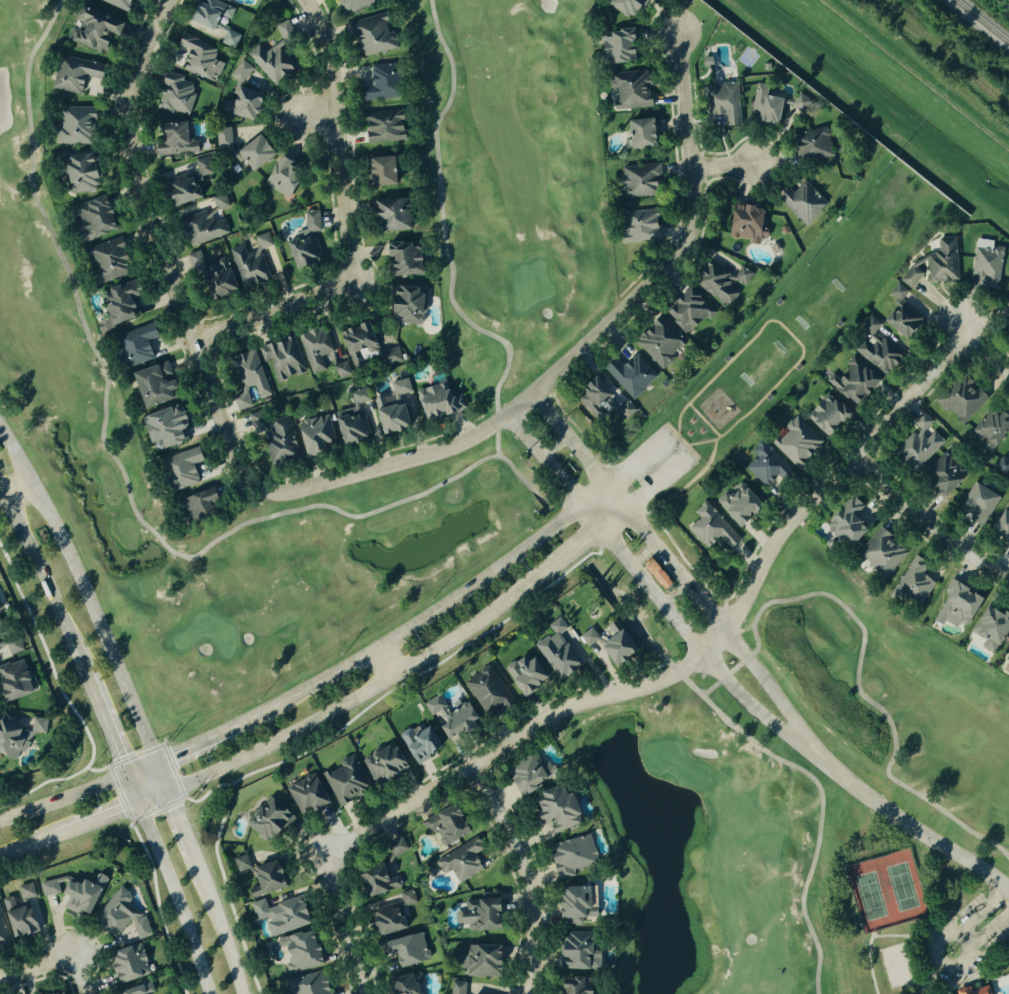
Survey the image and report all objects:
building: (224, 0)
building: (114, 3)
building: (350, 5)
building: (622, 6)
building: (207, 16)
railway: (981, 22)
building: (91, 30)
building: (283, 30)
building: (370, 36)
building: (230, 39)
building: (616, 46)
railway: (942, 53)
building: (196, 57)
building: (271, 62)
building: (240, 72)
building: (72, 75)
building: (375, 83)
building: (630, 90)
building: (173, 95)
building: (797, 103)
building: (240, 104)
building: (722, 104)
building: (762, 106)
road: (318, 122)
building: (71, 126)
building: (381, 128)
building: (638, 134)
building: (223, 139)
building: (172, 141)
building: (811, 146)
building: (253, 154)
road: (724, 164)
building: (378, 171)
building: (78, 174)
building: (279, 177)
building: (637, 182)
building: (185, 184)
building: (802, 202)
building: (388, 215)
building: (91, 218)
road: (347, 222)
building: (202, 224)
building: (745, 224)
building: (637, 227)
building: (305, 243)
road: (688, 245)
building: (250, 260)
building: (398, 260)
building: (107, 261)
building: (986, 263)
building: (931, 264)
building: (210, 274)
park: (840, 282)
building: (720, 283)
building: (896, 293)
building: (1005, 300)
building: (778, 301)
building: (404, 305)
building: (115, 306)
building: (685, 309)
building: (900, 321)
building: (839, 323)
park: (782, 333)
road: (789, 333)
building: (355, 337)
building: (657, 342)
building: (133, 345)
building: (316, 349)
building: (877, 353)
road: (988, 355)
building: (282, 357)
building: (726, 358)
building: (346, 365)
park: (761, 365)
building: (798, 367)
building: (630, 375)
building: (248, 379)
building: (851, 381)
building: (150, 383)
building: (399, 387)
road: (209, 390)
building: (768, 397)
building: (593, 398)
building: (959, 399)
building: (433, 400)
building: (388, 415)
road: (549, 415)
building: (826, 415)
road: (678, 417)
building: (351, 419)
road: (703, 420)
building: (162, 427)
road: (670, 428)
building: (314, 434)
road: (671, 434)
building: (274, 435)
road: (523, 436)
road: (717, 438)
building: (991, 439)
road: (681, 440)
road: (700, 442)
building: (796, 442)
building: (916, 444)
road: (554, 448)
road: (692, 452)
road: (690, 454)
road: (640, 461)
parking lot: (659, 461)
building: (766, 465)
building: (179, 468)
building: (942, 475)
road: (696, 477)
road: (524, 480)
road: (657, 481)
road: (19, 488)
road: (613, 489)
building: (736, 503)
building: (197, 504)
building: (977, 504)
road: (585, 512)
road: (285, 514)
road: (613, 517)
building: (844, 523)
road: (928, 525)
building: (709, 527)
building: (1001, 527)
park: (507, 529)
road: (577, 547)
building: (880, 553)
road: (644, 554)
road: (678, 569)
road: (598, 573)
road: (637, 573)
building: (655, 575)
road: (42, 579)
building: (913, 583)
road: (85, 594)
road: (676, 595)
road: (630, 603)
building: (955, 606)
road: (620, 611)
road: (428, 614)
building: (988, 628)
road: (755, 629)
building: (606, 643)
building: (556, 650)
road: (699, 655)
building: (1007, 658)
road: (383, 662)
road: (674, 663)
road: (719, 667)
road: (754, 667)
building: (523, 674)
building: (14, 680)
road: (368, 690)
building: (487, 692)
building: (449, 716)
building: (18, 733)
road: (110, 739)
building: (418, 744)
road: (198, 746)
traffic signals: (117, 755)
traffic signals: (173, 759)
building: (383, 764)
road: (143, 770)
building: (522, 776)
building: (345, 779)
building: (305, 796)
road: (63, 797)
traffic signals: (176, 807)
traffic signals: (119, 812)
road: (113, 814)
road: (178, 815)
building: (267, 819)
road: (903, 822)
building: (443, 824)
road: (28, 844)
building: (571, 855)
building: (459, 862)
road: (528, 874)
building: (256, 876)
building: (375, 880)
park: (887, 891)
building: (72, 893)
road: (177, 898)
building: (572, 904)
road: (984, 910)
building: (17, 911)
building: (389, 914)
building: (478, 914)
building: (279, 915)
building: (119, 916)
park: (914, 918)
road: (346, 927)
road: (990, 928)
road: (219, 929)
road: (919, 932)
road: (943, 933)
road: (872, 934)
road: (937, 934)
road: (888, 935)
building: (2, 936)
building: (404, 949)
building: (297, 951)
building: (575, 952)
building: (478, 960)
building: (126, 963)
road: (869, 965)
park: (898, 965)
road: (37, 969)
road: (81, 976)
building: (306, 984)
building: (572, 985)
building: (457, 987)
building: (129, 990)
building: (971, 990)
building: (52, 993)

